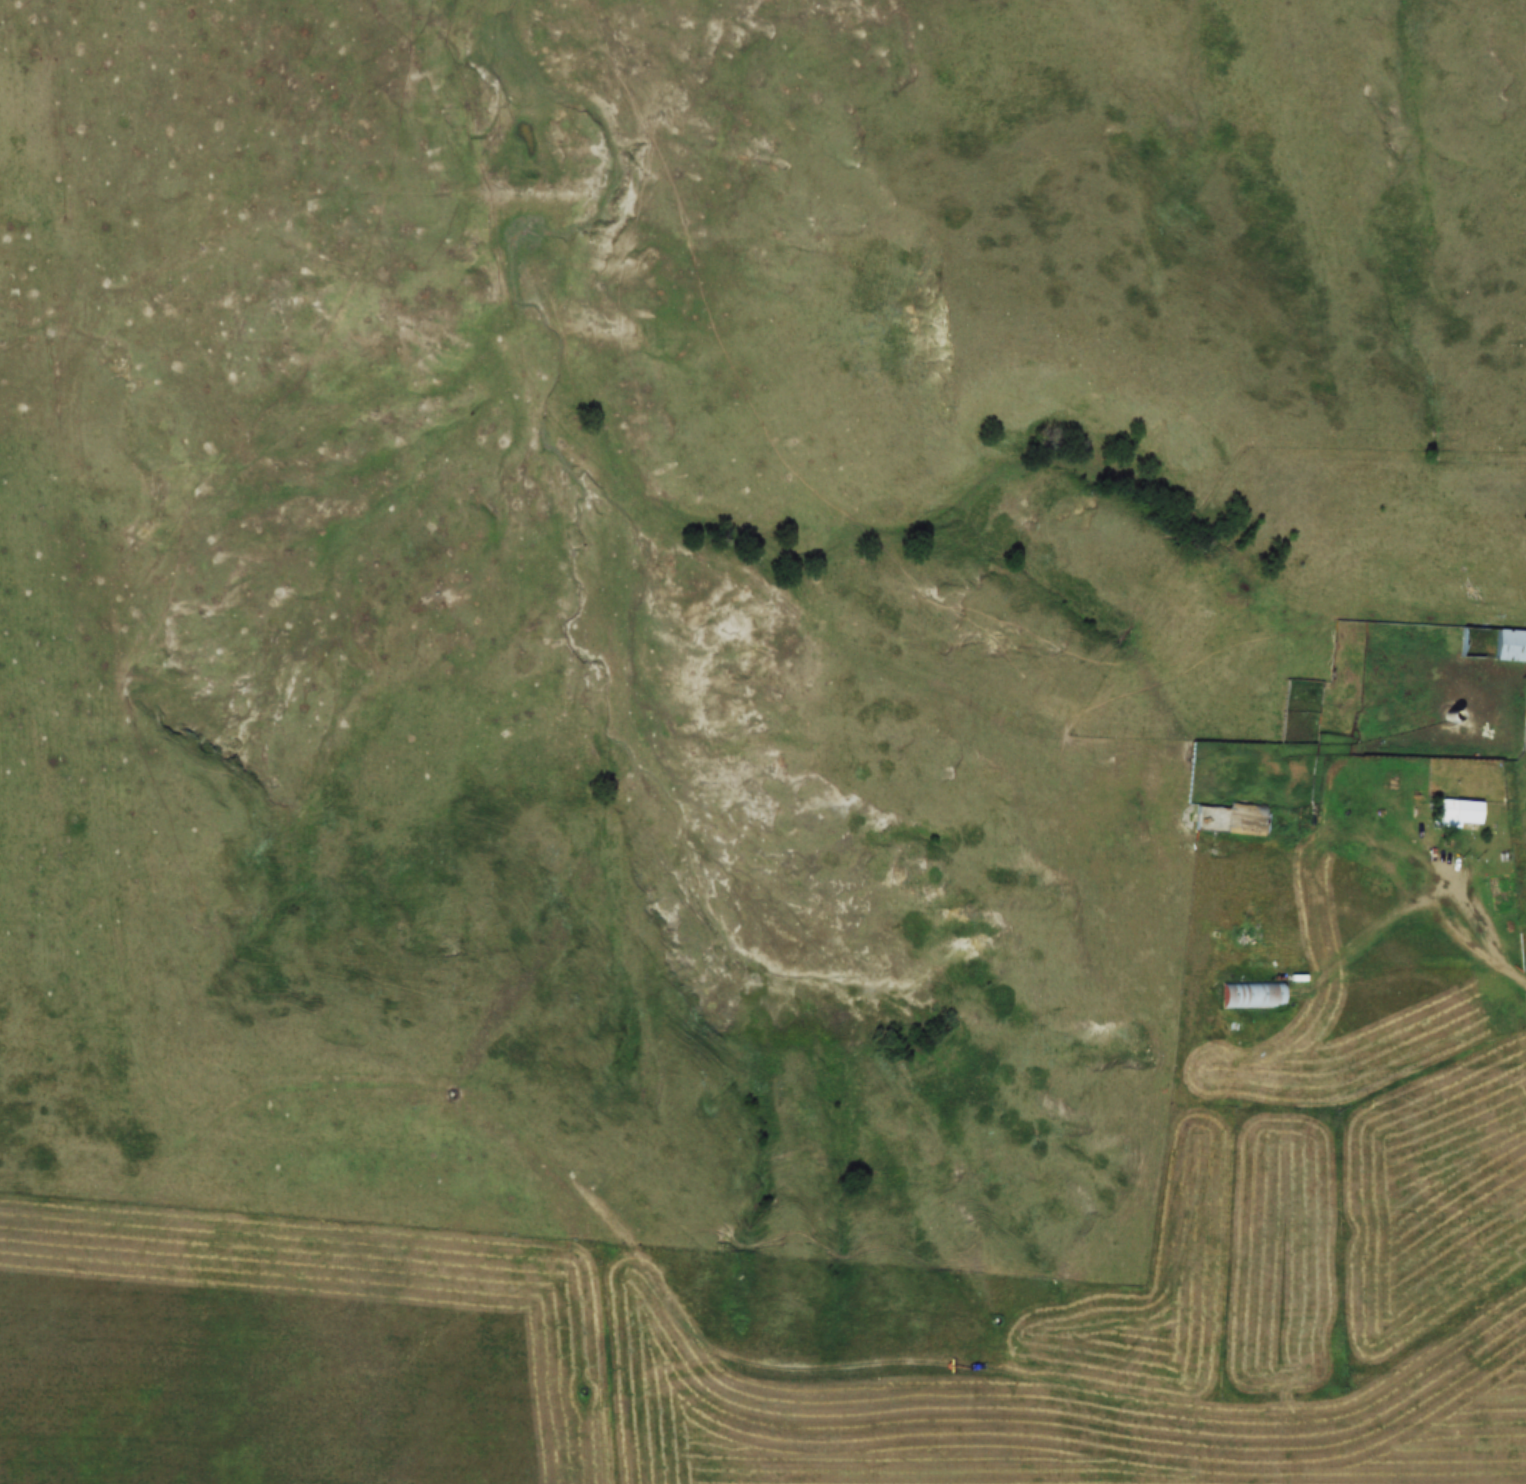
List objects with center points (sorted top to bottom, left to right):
dam: (509, 181)
building: (1504, 639)
building: (1447, 805)
building: (1217, 814)
building: (1458, 815)
road: (1463, 923)
building: (1237, 987)

